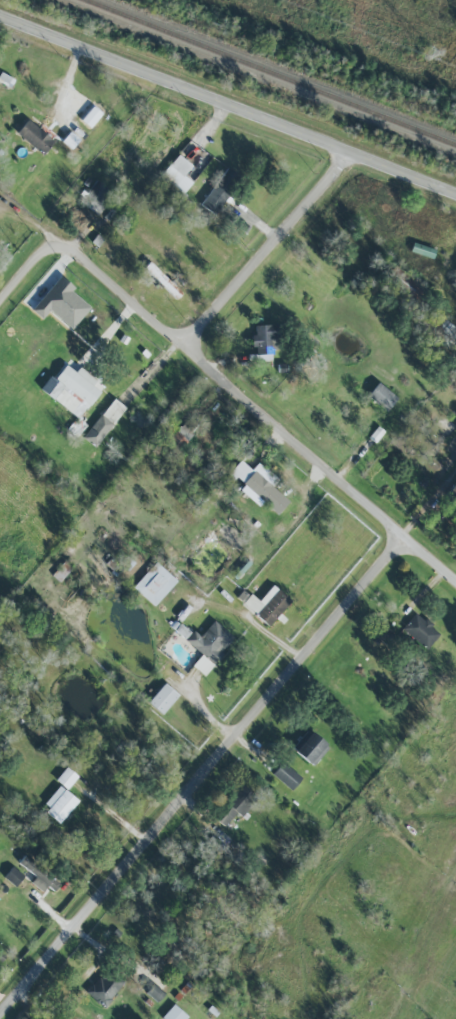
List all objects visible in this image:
power tower: (426, 54)
railway: (273, 71)
road: (227, 105)
building: (34, 136)
building: (177, 173)
building: (220, 190)
building: (96, 192)
road: (269, 248)
road: (32, 272)
building: (162, 280)
building: (407, 284)
building: (61, 303)
building: (442, 326)
building: (264, 341)
building: (85, 375)
building: (70, 391)
building: (381, 396)
road: (264, 412)
building: (103, 422)
building: (185, 430)
building: (375, 434)
building: (259, 485)
building: (452, 493)
building: (154, 583)
building: (265, 604)
building: (421, 630)
building: (209, 645)
building: (162, 698)
road: (200, 706)
building: (309, 747)
building: (286, 775)
building: (66, 777)
road: (205, 782)
building: (59, 803)
building: (233, 804)
building: (40, 874)
building: (13, 876)
building: (104, 987)
building: (154, 992)
building: (174, 1013)

